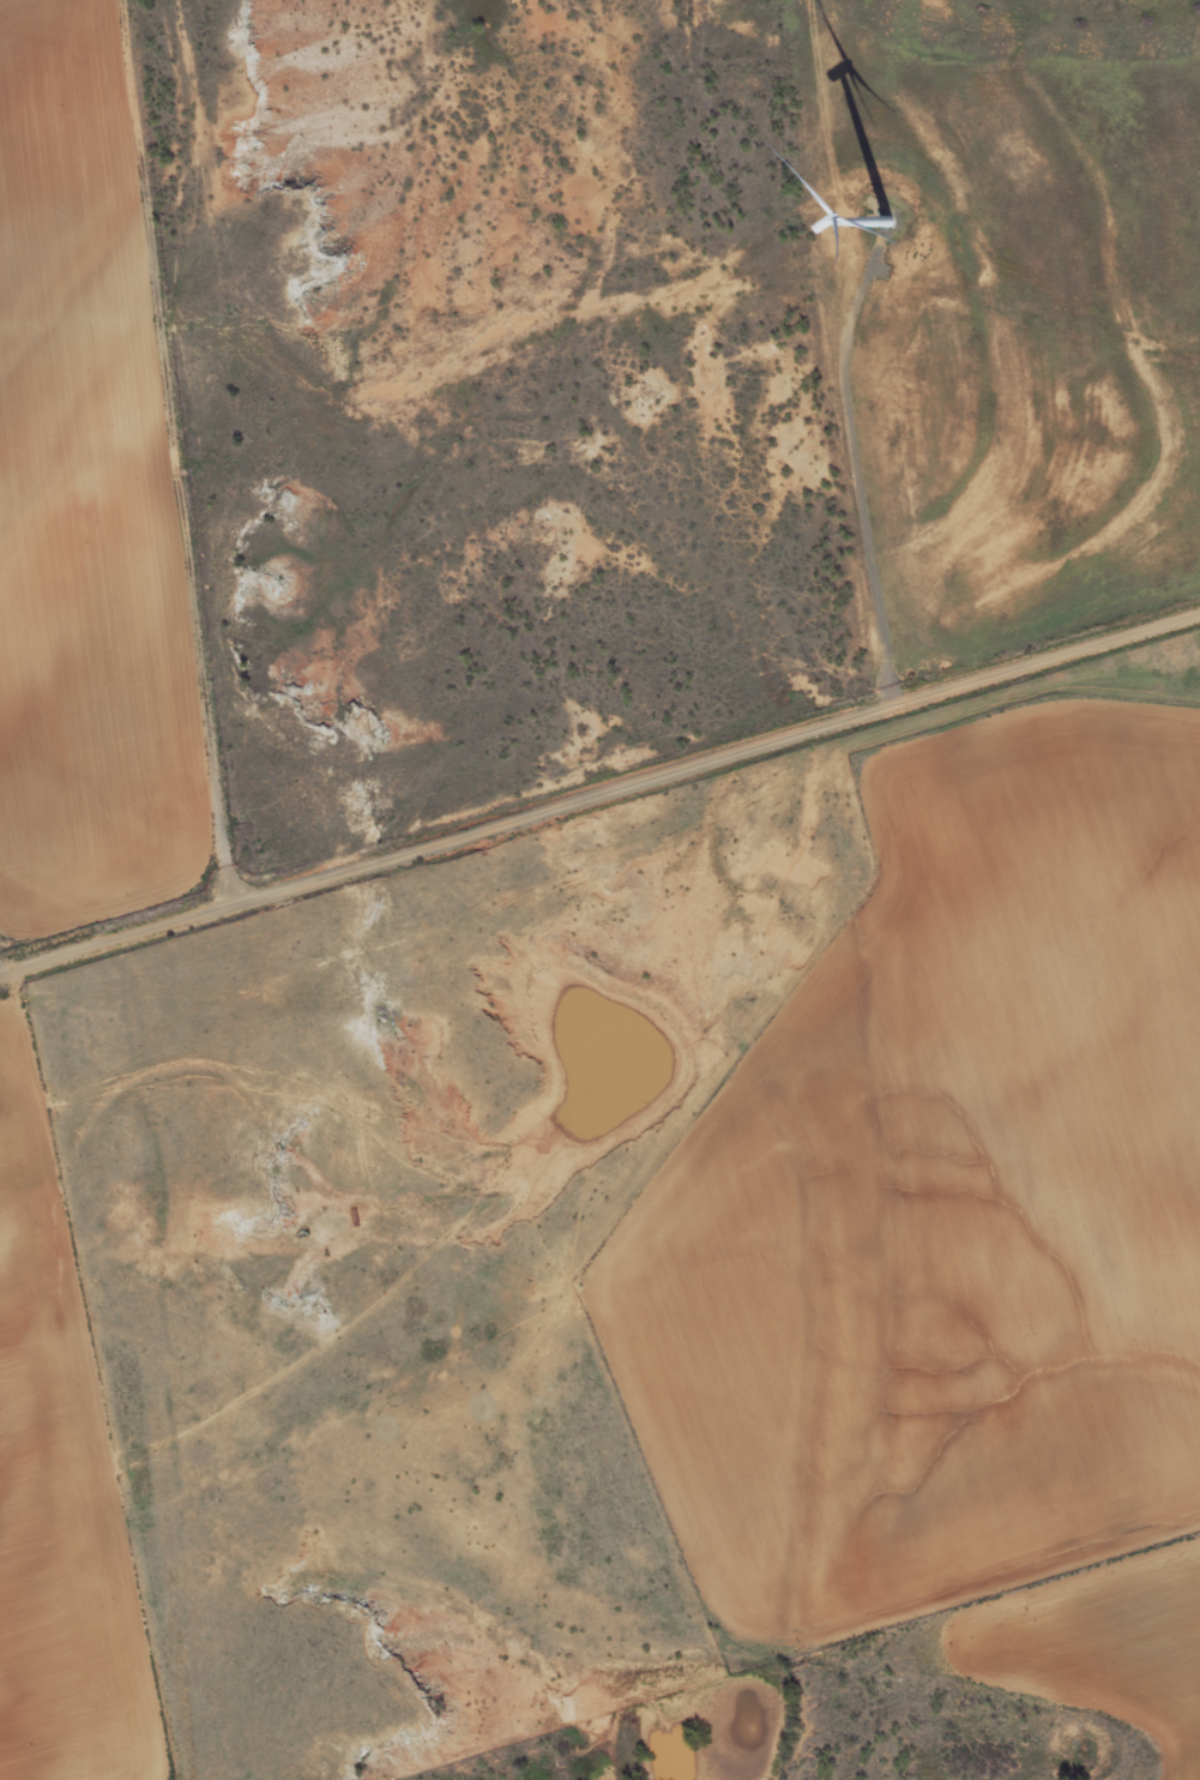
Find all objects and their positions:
wind turbine: (888, 223)
road: (599, 795)

